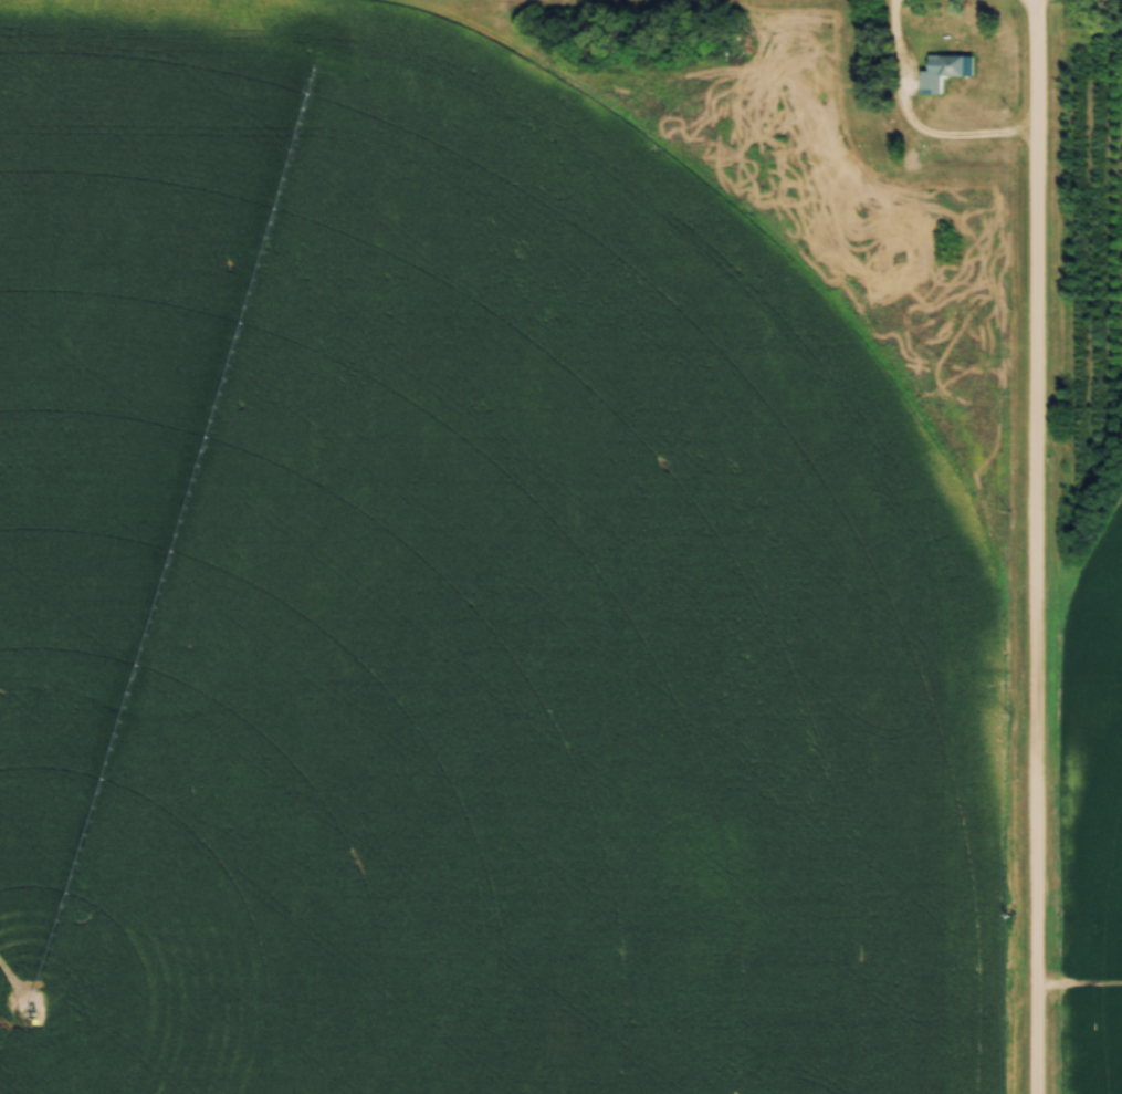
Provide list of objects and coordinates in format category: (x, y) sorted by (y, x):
building: (940, 72)
road: (908, 129)
road: (1036, 546)

